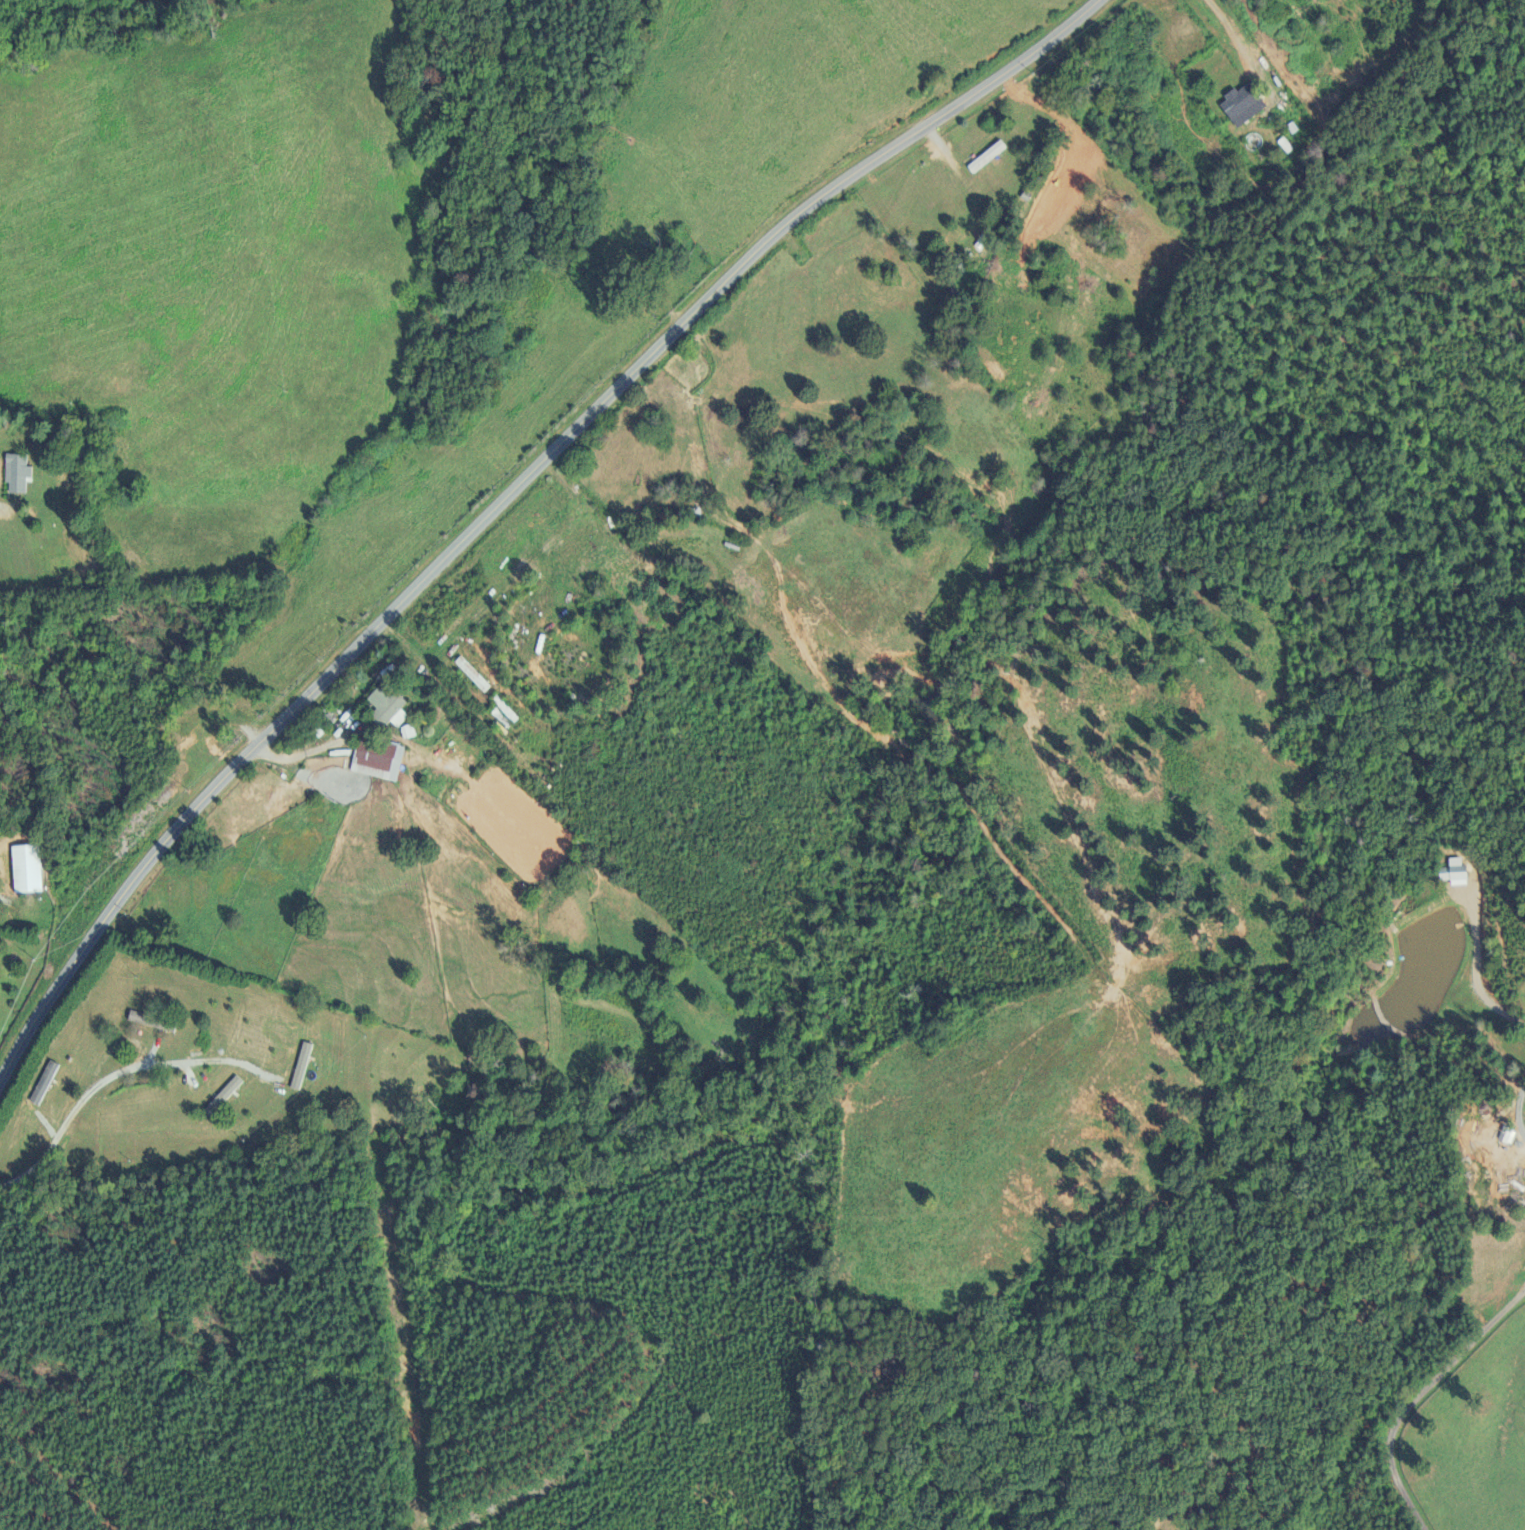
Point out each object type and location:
road: (1231, 29)
building: (1247, 105)
building: (990, 157)
building: (19, 474)
road: (505, 495)
building: (390, 706)
building: (382, 762)
building: (29, 868)
building: (1457, 873)
road: (1476, 973)
building: (0, 988)
building: (304, 1066)
road: (105, 1079)
building: (46, 1083)
building: (225, 1096)
road: (1520, 1112)
building: (1510, 1136)
road: (1416, 1393)

